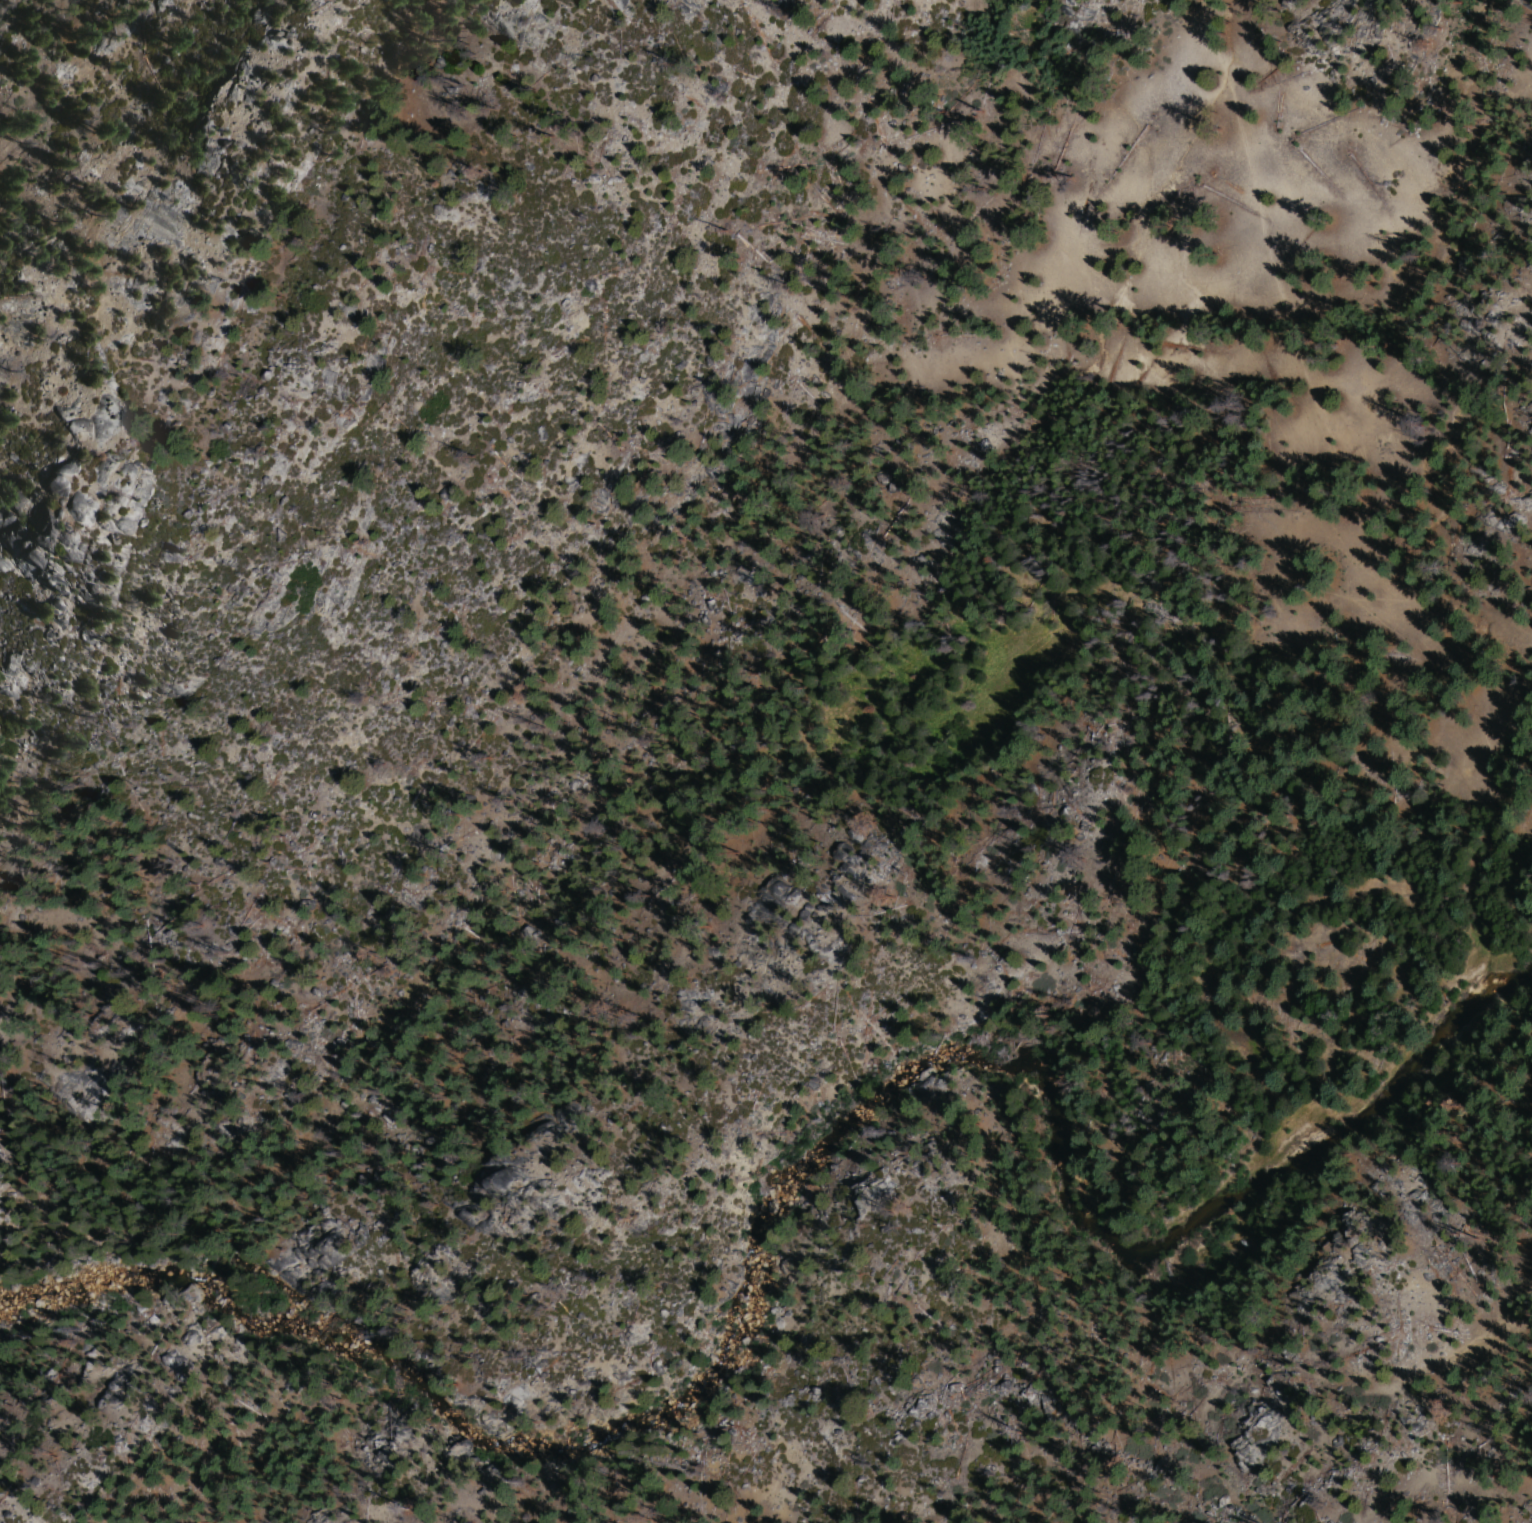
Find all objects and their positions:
road: (1321, 420)
road: (1310, 1334)

